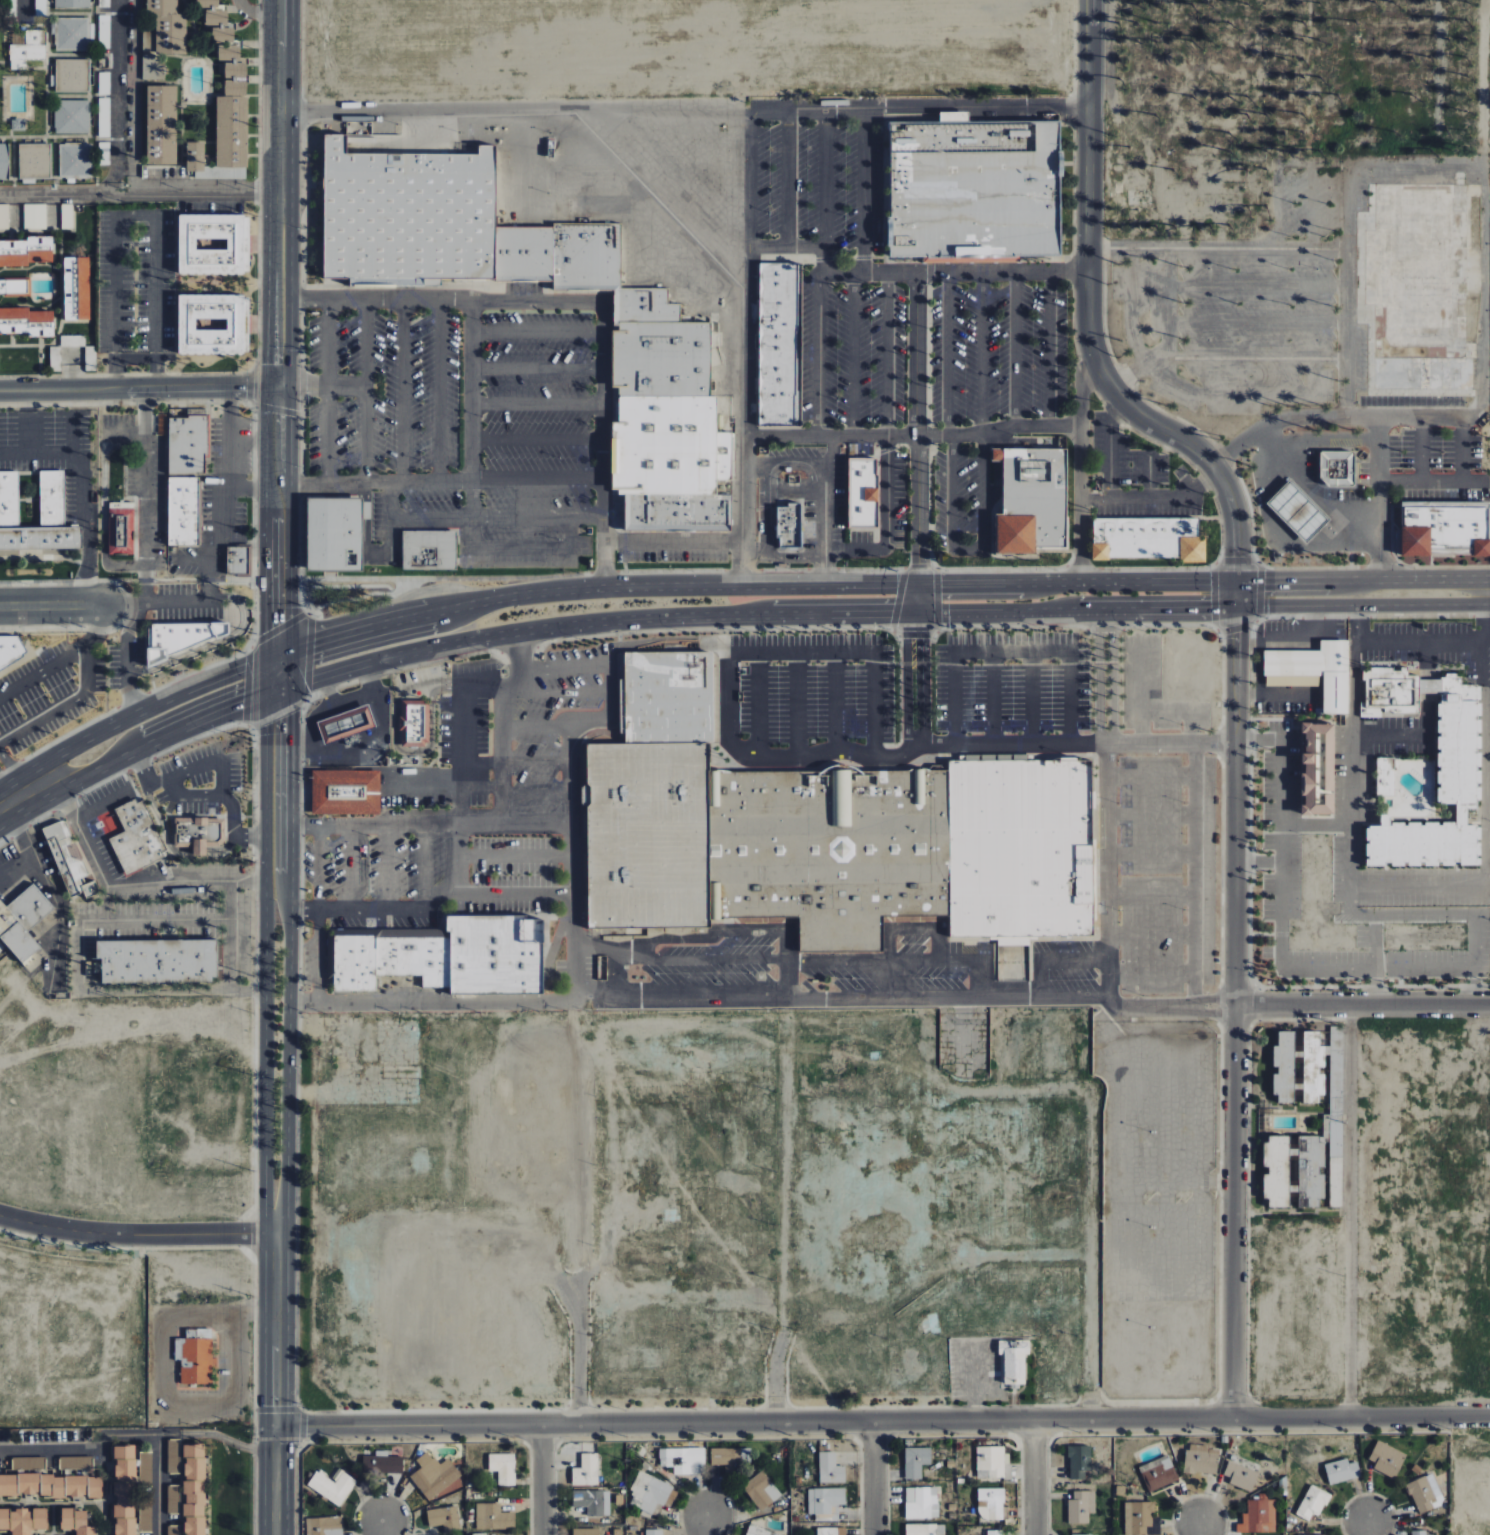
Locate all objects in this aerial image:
building: (104, 3)
building: (72, 4)
road: (21, 7)
building: (40, 11)
road: (257, 13)
building: (167, 26)
building: (219, 30)
building: (104, 31)
building: (71, 34)
building: (28, 51)
building: (152, 68)
building: (71, 75)
building: (233, 79)
road: (115, 96)
road: (977, 108)
road: (514, 111)
road: (801, 111)
building: (72, 116)
building: (160, 124)
building: (222, 143)
building: (103, 153)
building: (74, 159)
building: (34, 160)
building: (3, 162)
building: (972, 189)
road: (141, 192)
road: (282, 195)
building: (408, 207)
road: (135, 214)
building: (34, 216)
building: (67, 216)
building: (4, 217)
building: (212, 244)
building: (25, 251)
parking lot: (833, 264)
road: (1003, 271)
road: (890, 272)
building: (13, 286)
building: (75, 288)
road: (528, 299)
road: (1088, 311)
building: (25, 321)
building: (210, 324)
building: (73, 341)
building: (776, 344)
road: (135, 359)
parking lot: (991, 376)
road: (138, 389)
road: (470, 390)
road: (365, 394)
road: (1334, 417)
parking lot: (463, 418)
road: (917, 428)
road: (998, 429)
road: (781, 436)
road: (289, 437)
building: (187, 443)
road: (1317, 445)
road: (12, 455)
building: (1336, 468)
road: (80, 471)
road: (1079, 471)
road: (484, 480)
road: (328, 485)
road: (245, 487)
building: (861, 493)
road: (143, 496)
building: (9, 499)
road: (1381, 499)
building: (1029, 500)
road: (266, 509)
road: (823, 509)
road: (518, 517)
road: (412, 519)
building: (788, 525)
road: (888, 525)
building: (120, 528)
road: (603, 533)
building: (332, 534)
building: (1143, 539)
road: (674, 541)
road: (209, 547)
building: (1480, 548)
building: (427, 550)
road: (972, 550)
road: (290, 551)
traffic signals: (1237, 559)
building: (237, 561)
traffic signals: (920, 568)
road: (1376, 583)
road: (930, 584)
traffic signals: (942, 584)
road: (1076, 584)
road: (751, 585)
road: (908, 585)
road: (1237, 585)
traffic signals: (1263, 585)
road: (524, 593)
road: (1236, 595)
road: (918, 600)
road: (52, 605)
road: (1375, 605)
road: (1236, 606)
traffic signals: (1212, 608)
road: (1077, 611)
road: (366, 613)
road: (929, 614)
road: (904, 615)
traffic signals: (892, 616)
road: (1104, 619)
road: (599, 623)
road: (95, 624)
traffic signals: (314, 625)
road: (378, 626)
traffic signals: (266, 631)
traffic signals: (1236, 631)
traffic signals: (922, 639)
road: (1419, 639)
traffic signals: (313, 645)
building: (13, 651)
road: (291, 651)
road: (280, 655)
road: (61, 660)
road: (907, 671)
road: (922, 672)
building: (1312, 672)
road: (727, 675)
road: (266, 680)
road: (302, 683)
road: (455, 685)
road: (269, 691)
building: (664, 693)
traffic signals: (248, 699)
road: (291, 700)
parking lot: (453, 704)
road: (42, 712)
road: (141, 712)
traffic signals: (290, 714)
building: (412, 723)
road: (462, 723)
building: (345, 725)
road: (1403, 734)
road: (1104, 736)
road: (1105, 739)
road: (148, 740)
road: (915, 742)
road: (1075, 742)
road: (418, 752)
building: (1458, 761)
road: (375, 769)
building: (1316, 770)
road: (144, 775)
building: (1384, 777)
road: (8, 785)
road: (33, 789)
building: (344, 791)
road: (288, 792)
road: (185, 795)
road: (8, 805)
road: (102, 806)
parking lot: (475, 811)
road: (463, 815)
road: (1315, 822)
building: (198, 832)
building: (136, 838)
road: (574, 840)
building: (837, 842)
road: (266, 855)
building: (67, 859)
road: (1258, 861)
road: (1102, 869)
road: (1195, 872)
road: (171, 882)
road: (1417, 888)
road: (1349, 898)
road: (106, 901)
road: (1414, 911)
building: (25, 923)
road: (289, 925)
road: (1281, 925)
road: (230, 935)
road: (1374, 938)
building: (1013, 941)
road: (576, 943)
building: (495, 953)
building: (411, 955)
road: (316, 956)
road: (1478, 960)
building: (156, 961)
building: (353, 962)
road: (109, 992)
road: (760, 998)
road: (1362, 1004)
road: (1235, 1023)
building: (1313, 1065)
building: (1283, 1067)
road: (286, 1106)
road: (265, 1108)
building: (1304, 1165)
road: (1351, 1209)
road: (786, 1210)
road: (136, 1234)
building: (193, 1354)
road: (576, 1356)
building: (1014, 1362)
road: (274, 1384)
road: (882, 1420)
road: (228, 1441)
road: (81, 1447)
building: (173, 1456)
building: (1201, 1459)
building: (1387, 1459)
building: (683, 1460)
building: (915, 1461)
building: (992, 1461)
building: (1079, 1461)
building: (28, 1462)
building: (75, 1462)
building: (382, 1463)
building: (503, 1467)
building: (830, 1468)
building: (145, 1469)
building: (586, 1470)
road: (158, 1471)
building: (1341, 1471)
building: (1158, 1473)
building: (434, 1475)
building: (1241, 1476)
road: (1033, 1477)
road: (541, 1478)
road: (873, 1478)
building: (50, 1486)
building: (331, 1486)
building: (123, 1489)
building: (193, 1489)
building: (761, 1490)
building: (650, 1492)
building: (1424, 1493)
building: (173, 1498)
building: (825, 1500)
building: (592, 1501)
building: (921, 1503)
building: (1312, 1503)
building: (992, 1504)
building: (1081, 1507)
building: (145, 1514)
building: (493, 1517)
building: (1259, 1517)
building: (444, 1518)
building: (1141, 1519)
building: (23, 1520)
building: (75, 1521)
road: (1369, 1522)
road: (707, 1523)
road: (1197, 1524)
building: (323, 1526)
road: (381, 1526)
building: (921, 1529)
building: (173, 1530)
building: (585, 1531)
building: (759, 1531)
building: (831, 1531)
building: (654, 1532)
building: (995, 1532)
building: (1421, 1533)
building: (1081, 1534)

